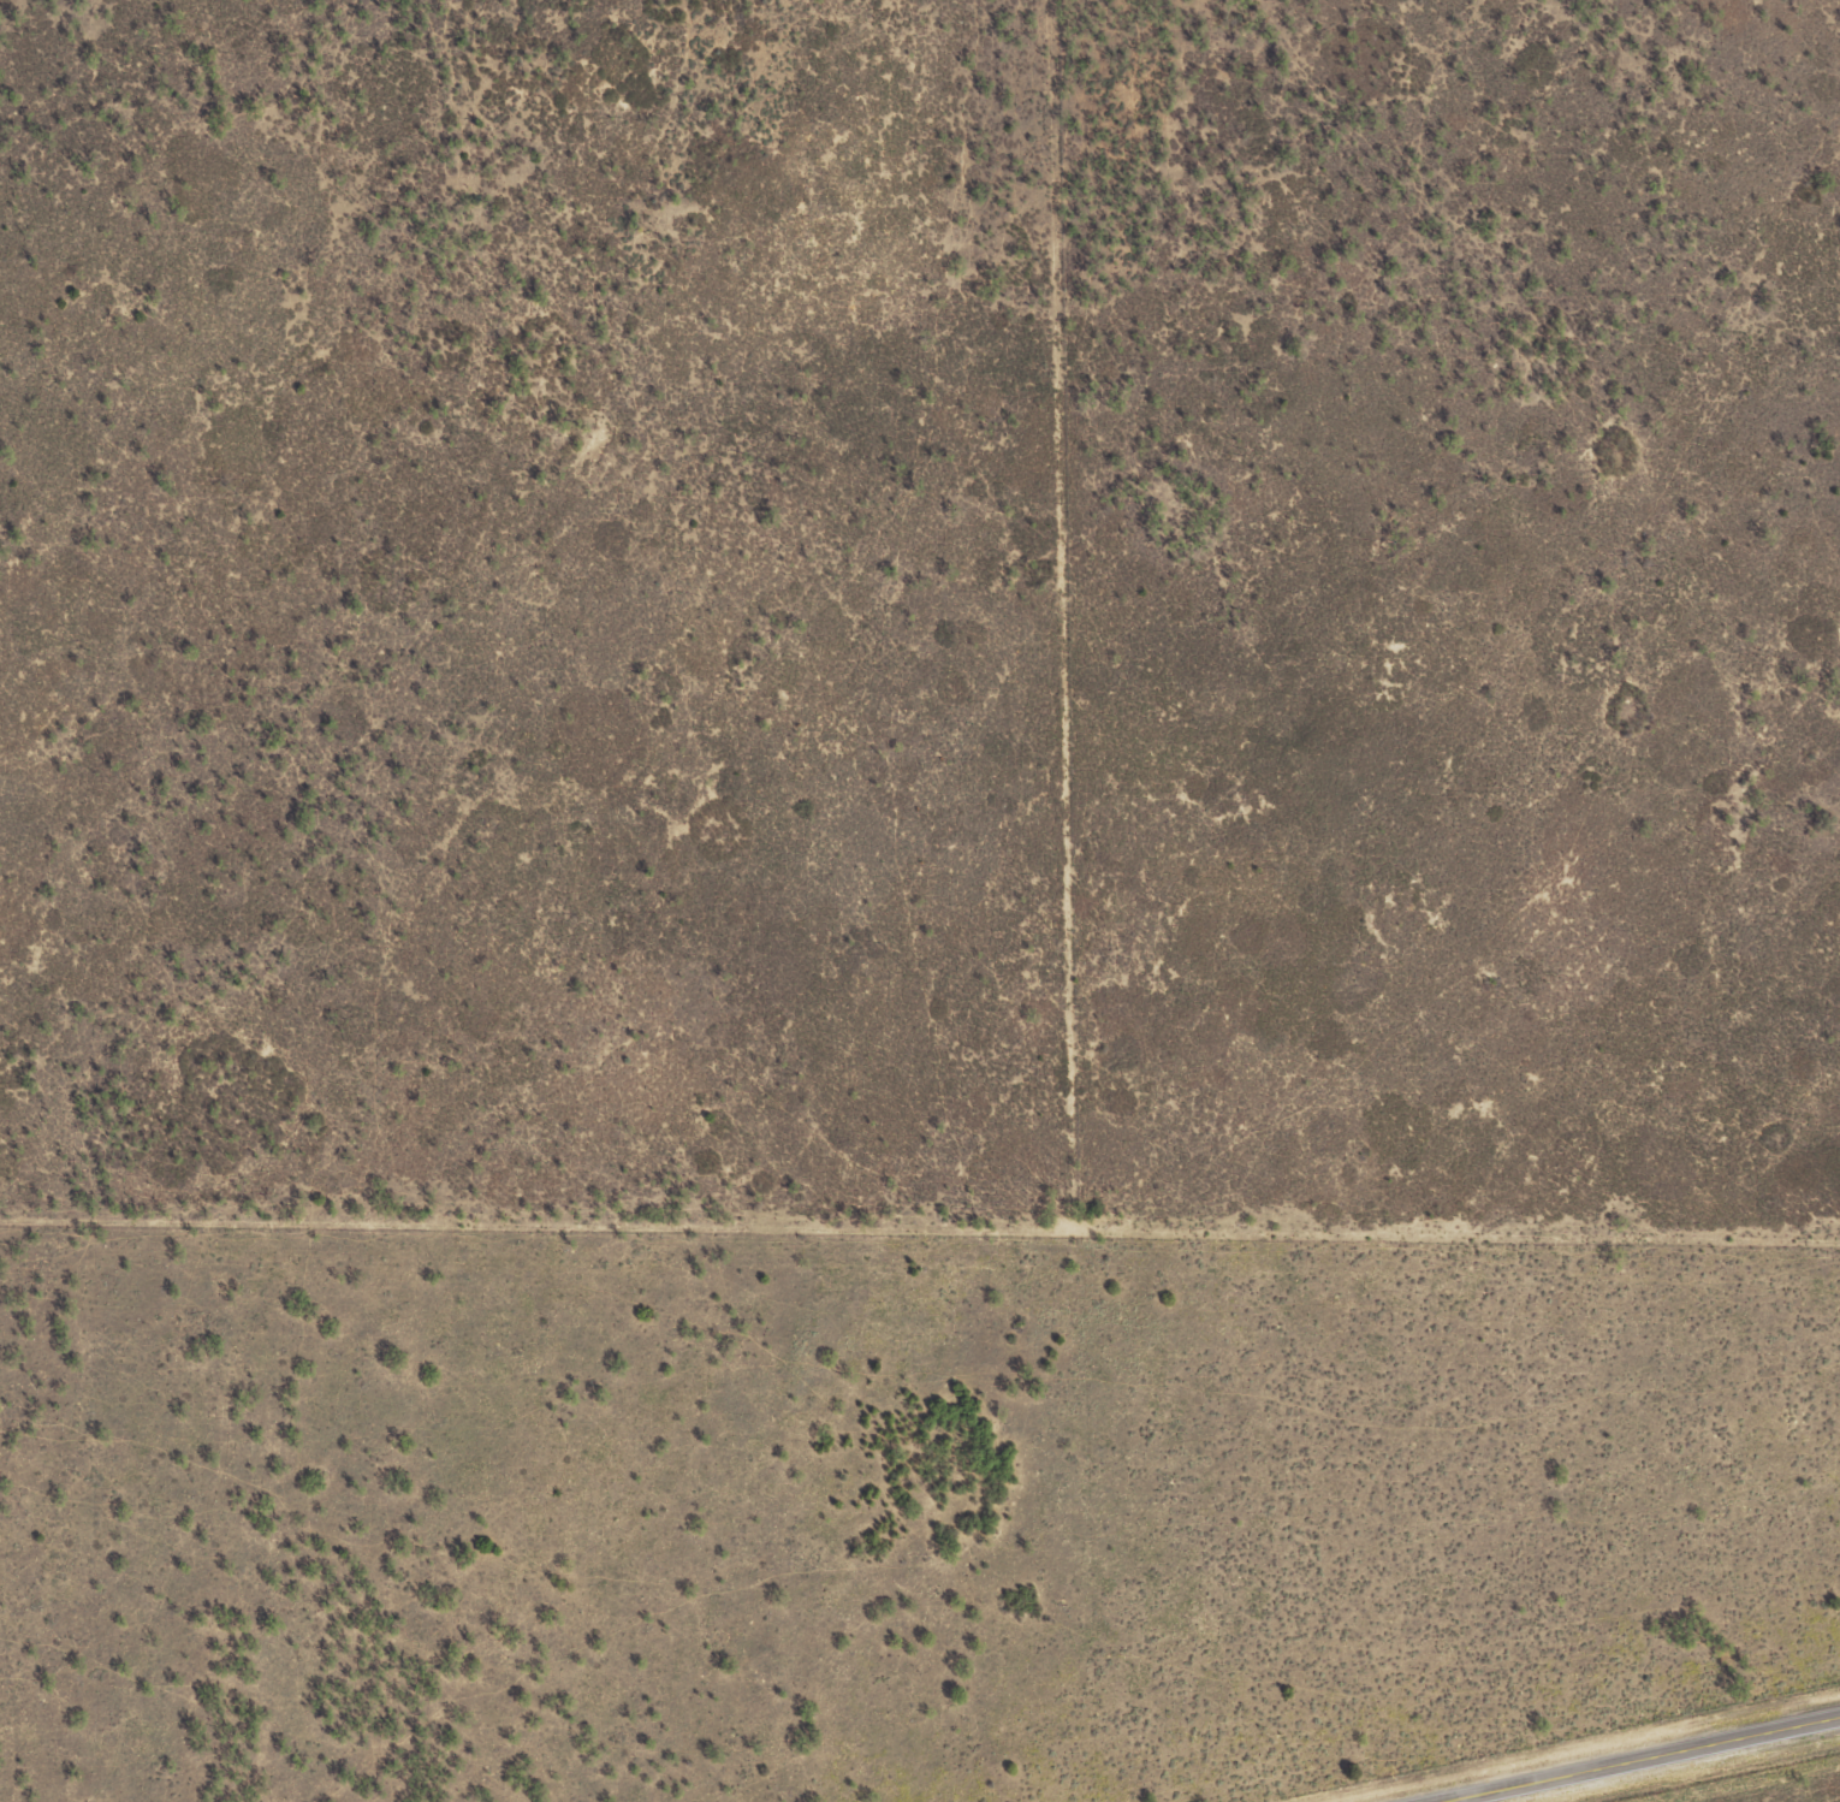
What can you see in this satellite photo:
road: (1675, 1766)

